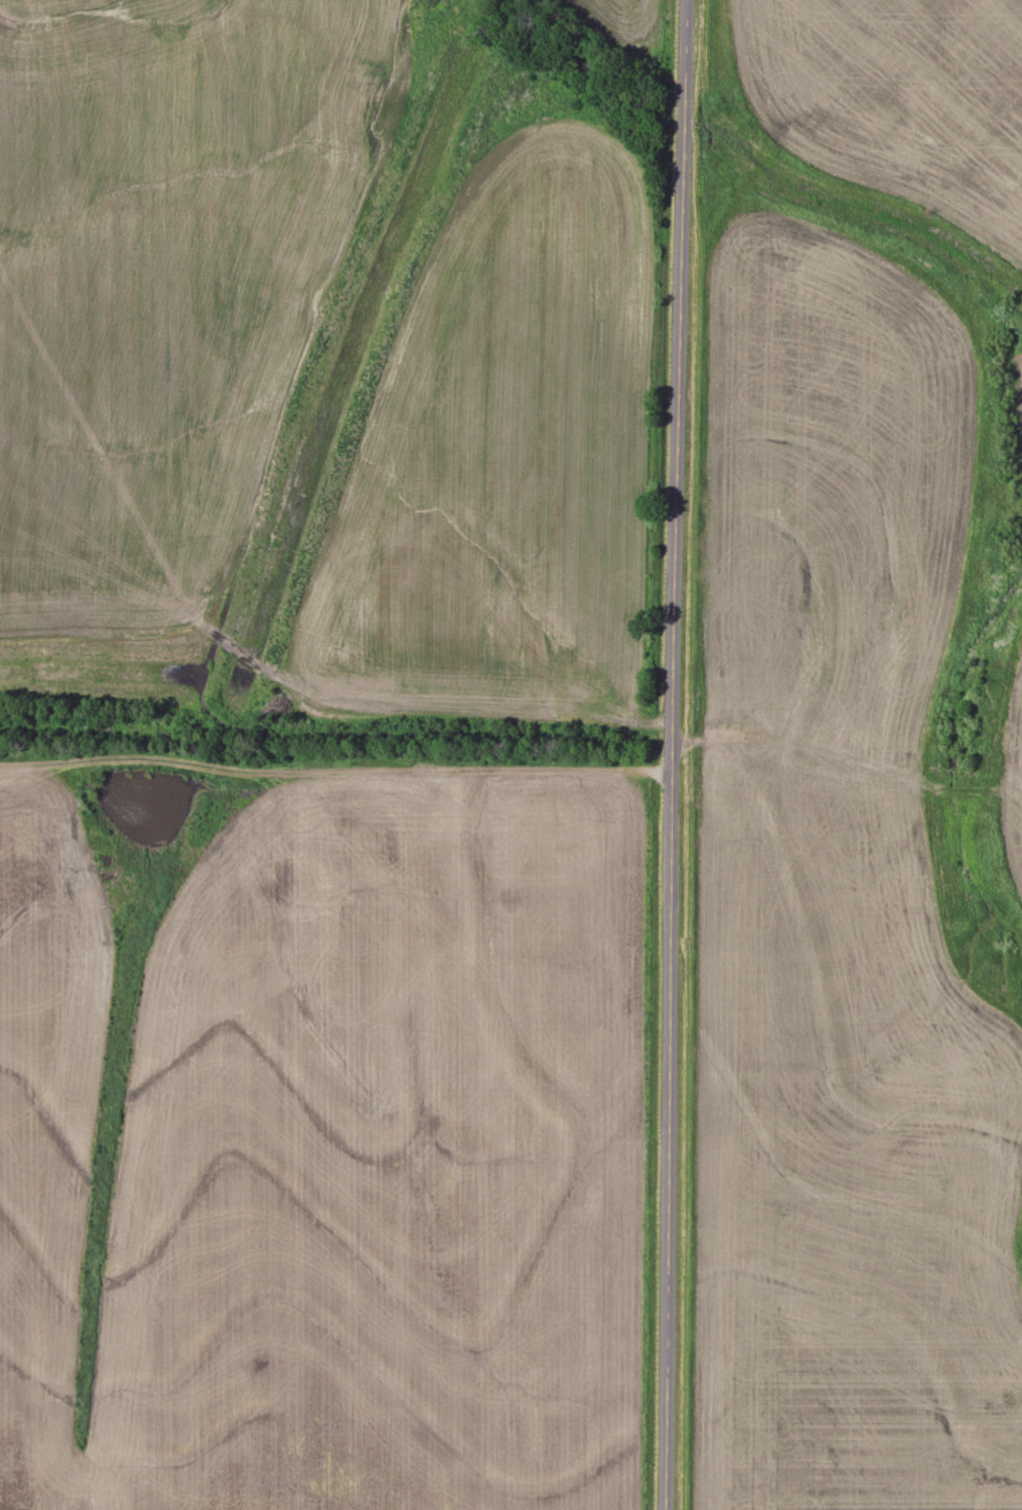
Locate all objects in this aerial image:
road: (681, 754)

